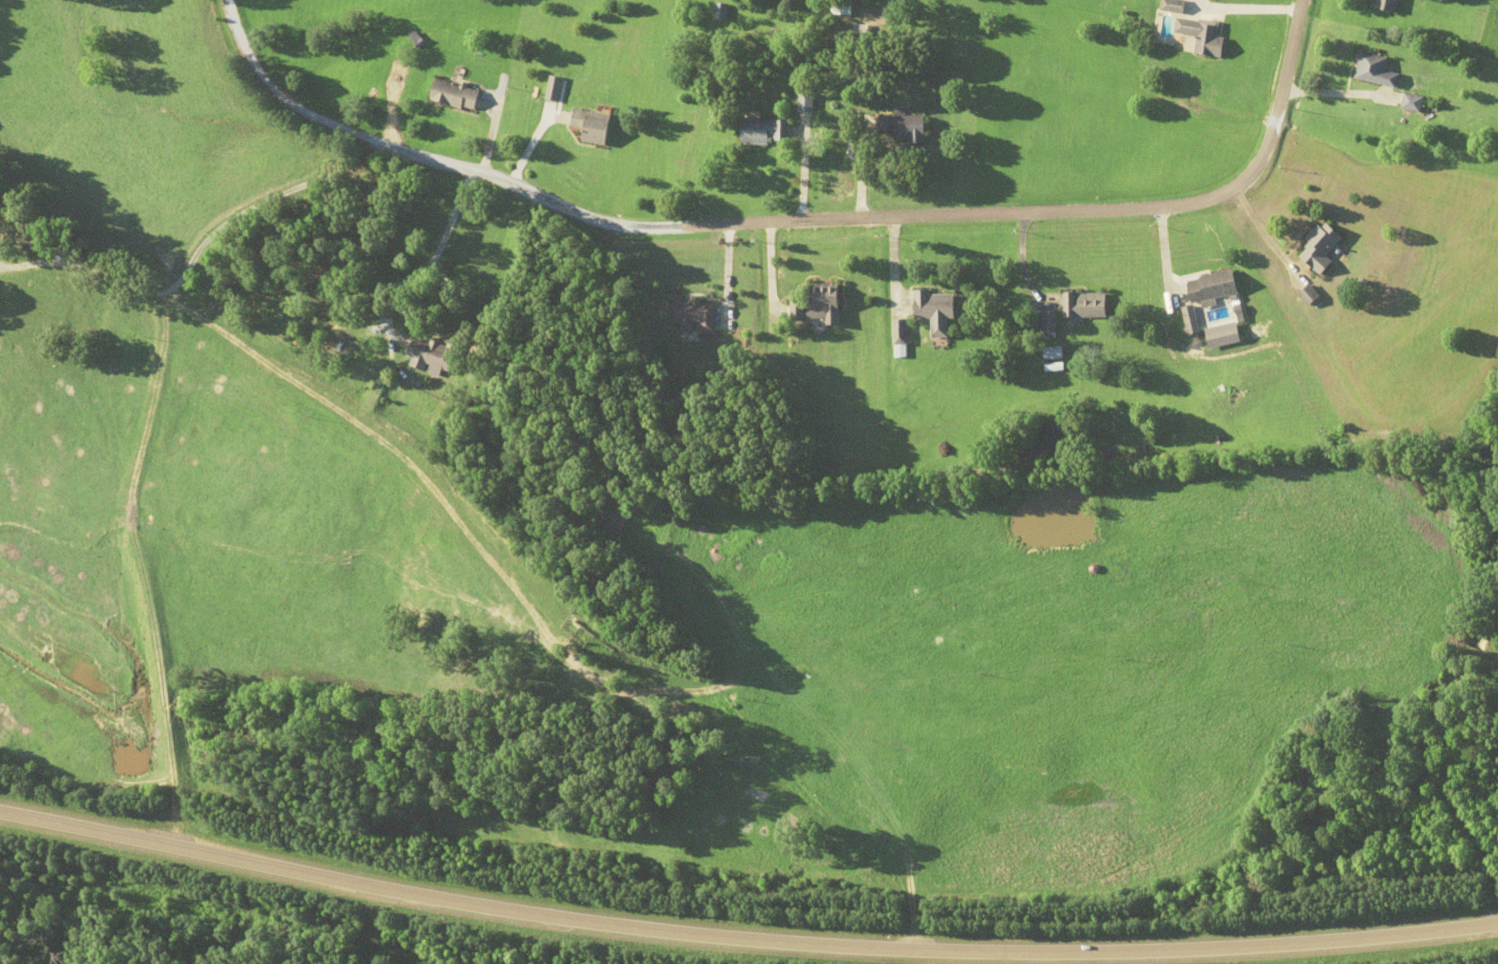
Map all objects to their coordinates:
building: (1170, 5)
building: (1386, 5)
building: (719, 11)
building: (859, 34)
building: (1201, 36)
building: (1375, 70)
building: (454, 94)
building: (807, 102)
building: (1412, 102)
building: (591, 127)
building: (903, 127)
building: (767, 132)
road: (800, 217)
building: (1321, 248)
road: (427, 259)
building: (1213, 287)
building: (1310, 294)
building: (1084, 305)
building: (828, 308)
building: (799, 309)
building: (935, 310)
building: (695, 314)
building: (1048, 322)
building: (428, 357)
road: (857, 566)
road: (744, 938)

